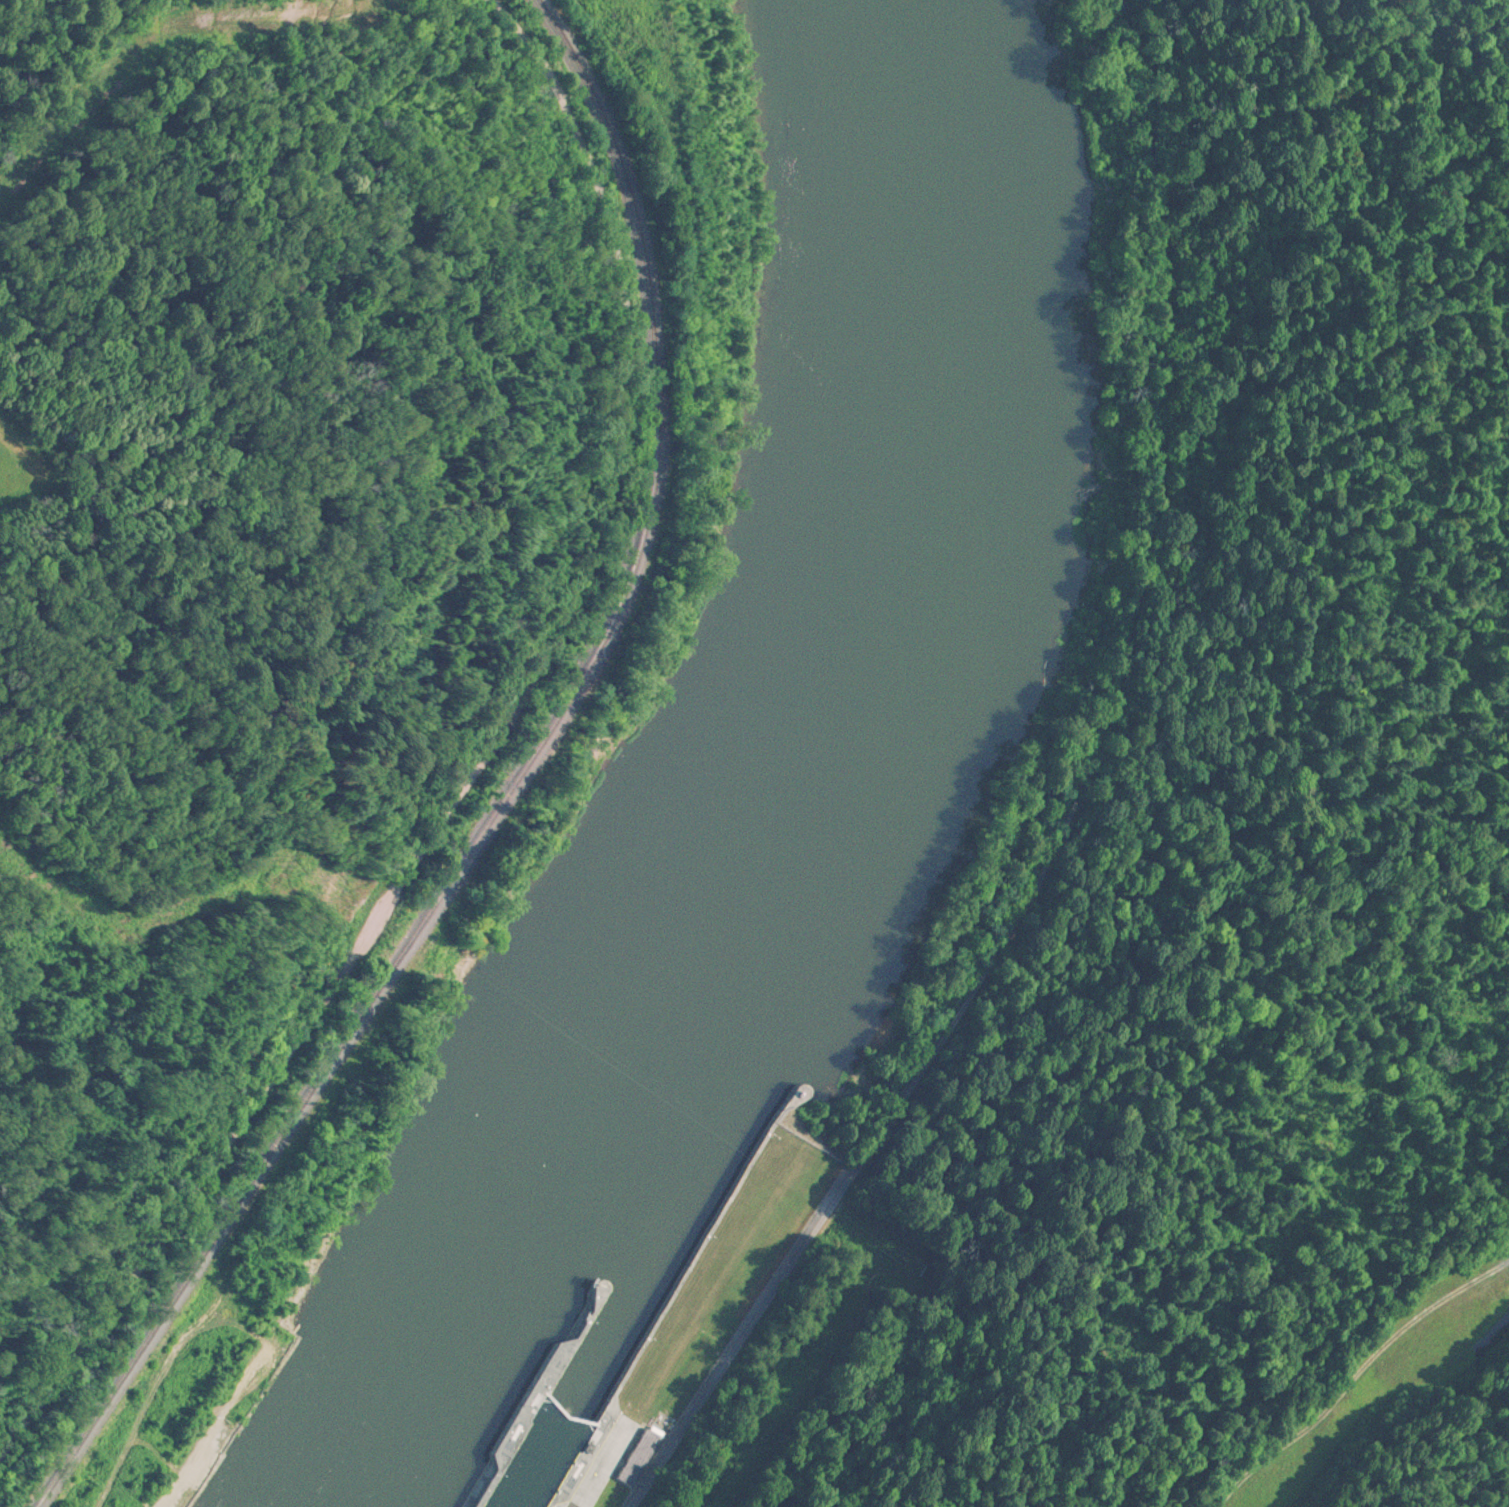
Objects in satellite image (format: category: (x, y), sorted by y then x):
river: (847, 733)
road: (465, 779)
railway: (510, 795)
road: (1071, 809)
road: (149, 1403)
road: (215, 1428)
building: (644, 1452)
river: (541, 1467)

